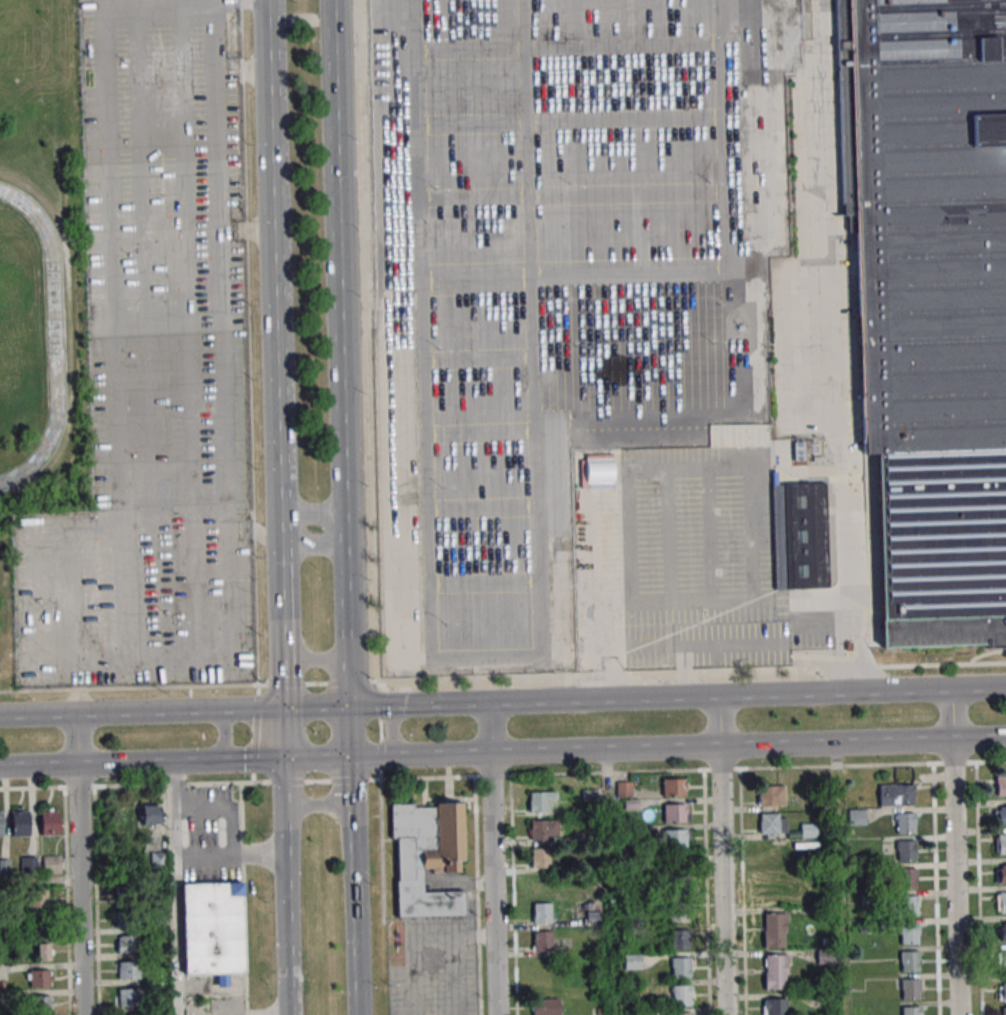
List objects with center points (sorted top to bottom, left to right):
road: (247, 77)
road: (252, 230)
park: (41, 284)
parking lot: (558, 293)
building: (931, 304)
road: (340, 330)
track: (35, 334)
road: (59, 342)
road: (276, 353)
road: (109, 359)
parking lot: (154, 371)
road: (237, 439)
road: (697, 470)
road: (312, 509)
road: (260, 535)
building: (799, 536)
road: (313, 547)
road: (708, 646)
road: (316, 660)
road: (349, 683)
road: (677, 697)
road: (317, 707)
traffic signals: (350, 707)
traffic signals: (284, 708)
road: (142, 714)
road: (951, 715)
road: (718, 721)
road: (489, 728)
road: (391, 730)
road: (350, 732)
road: (284, 733)
road: (224, 735)
road: (78, 739)
road: (678, 748)
road: (317, 758)
traffic signals: (351, 758)
road: (142, 759)
traffic signals: (284, 759)
road: (503, 775)
building: (1001, 785)
building: (673, 786)
building: (905, 794)
building: (771, 795)
building: (541, 800)
road: (317, 803)
building: (676, 812)
building: (149, 814)
building: (1001, 814)
building: (856, 817)
building: (906, 822)
building: (49, 823)
building: (773, 823)
building: (1, 824)
building: (20, 824)
building: (543, 829)
building: (808, 830)
parking lot: (204, 833)
building: (676, 838)
building: (1002, 843)
building: (769, 850)
building: (906, 850)
building: (427, 855)
building: (540, 857)
building: (158, 859)
road: (181, 859)
building: (51, 864)
building: (28, 865)
building: (679, 871)
building: (1001, 873)
road: (955, 877)
building: (907, 878)
road: (839, 879)
road: (722, 880)
road: (39, 881)
road: (609, 882)
road: (493, 884)
building: (129, 886)
road: (354, 886)
road: (285, 887)
road: (79, 888)
building: (37, 898)
building: (1003, 902)
building: (908, 906)
building: (679, 912)
building: (541, 913)
building: (131, 919)
building: (38, 923)
building: (775, 929)
building: (212, 930)
building: (1002, 931)
building: (909, 933)
road: (415, 936)
building: (680, 939)
building: (542, 940)
building: (127, 944)
building: (44, 950)
building: (1002, 959)
building: (909, 961)
building: (632, 963)
building: (681, 967)
building: (129, 969)
building: (776, 971)
building: (40, 977)
building: (910, 989)
building: (1001, 990)
building: (681, 995)
building: (127, 997)
building: (41, 1004)
building: (775, 1006)
building: (546, 1007)
building: (911, 1010)
building: (1004, 1011)
building: (677, 1013)

